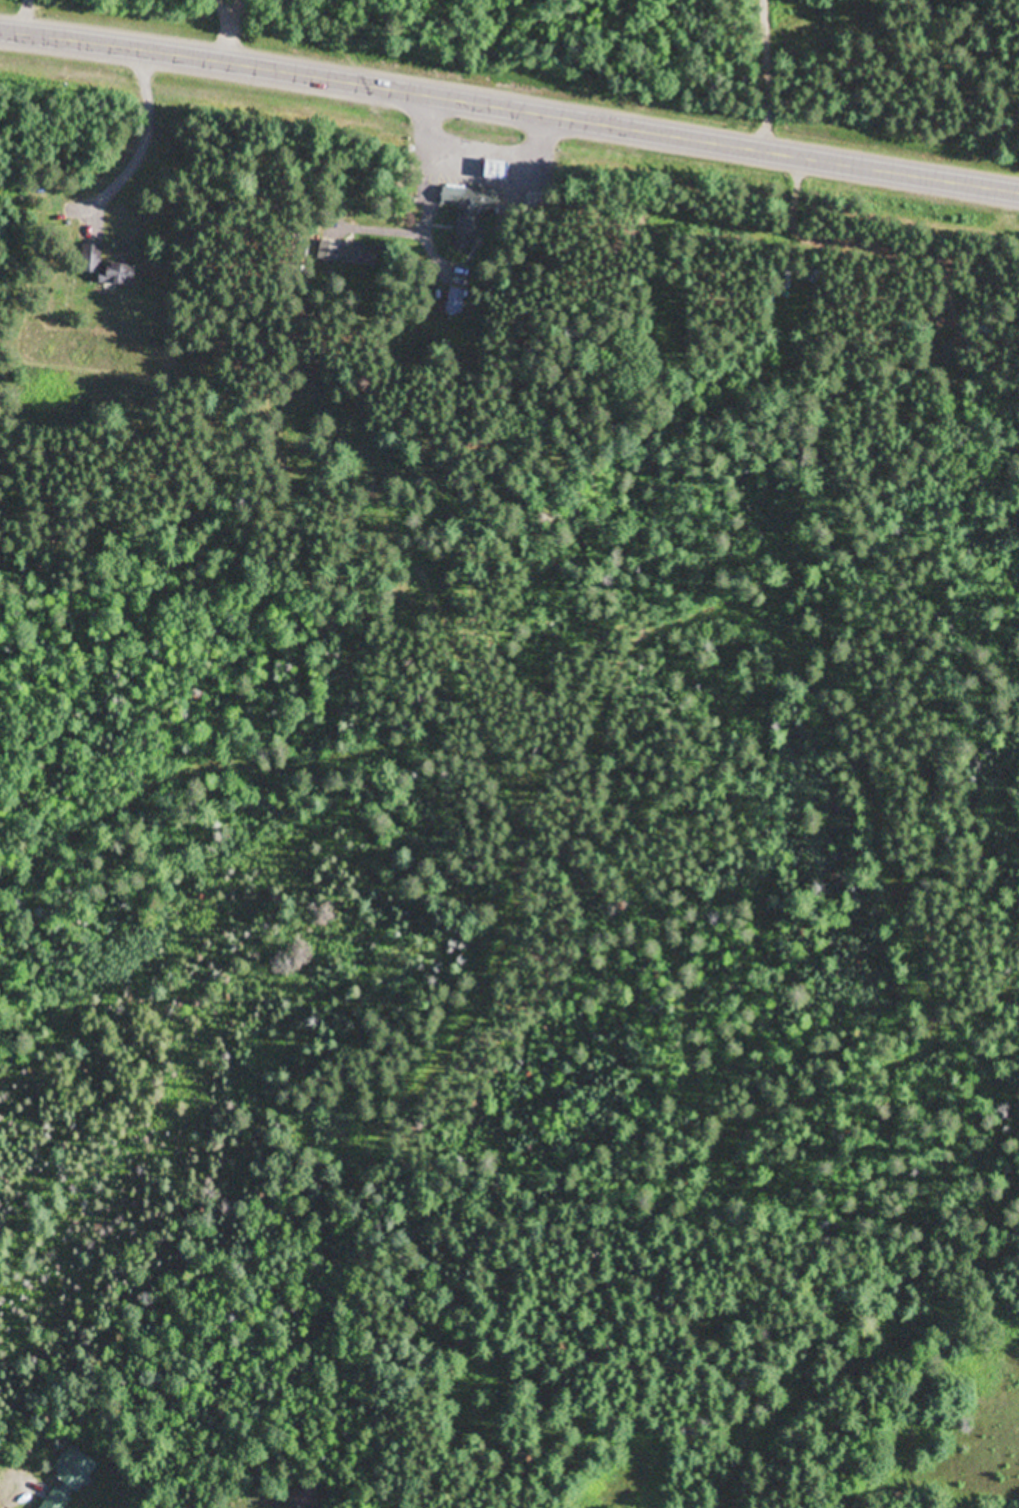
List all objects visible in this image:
road: (791, 35)
road: (765, 76)
road: (175, 87)
road: (509, 110)
road: (478, 144)
road: (144, 147)
road: (433, 150)
building: (503, 170)
gas station: (503, 170)
building: (472, 193)
building: (469, 223)
road: (414, 227)
building: (361, 253)
building: (93, 258)
road: (441, 267)
building: (120, 274)
building: (66, 1478)

